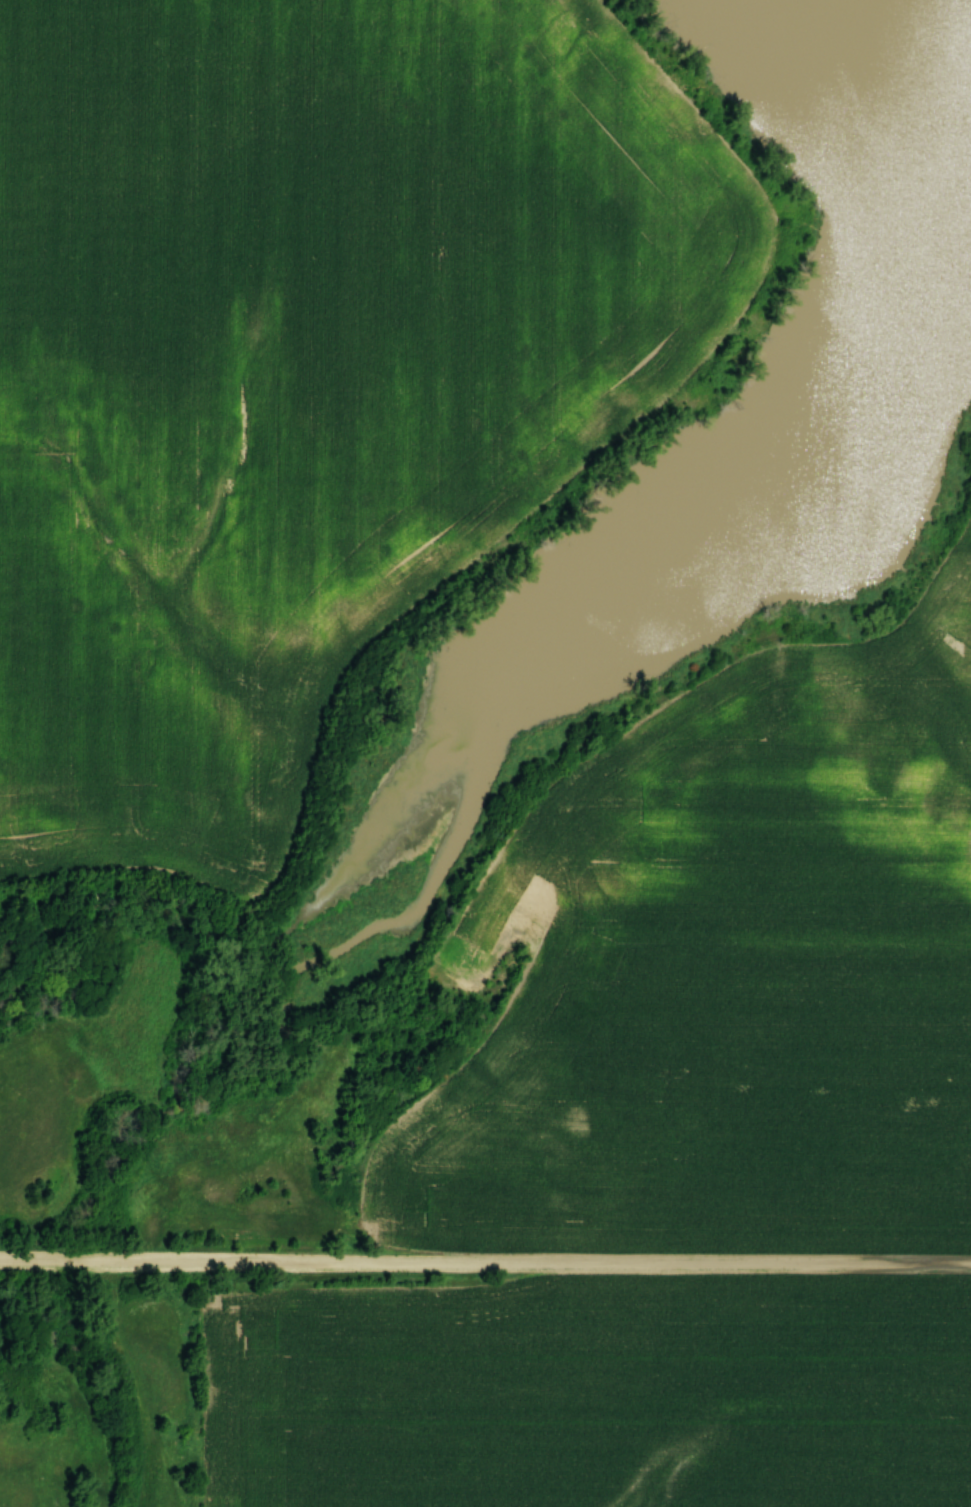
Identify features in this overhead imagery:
road: (485, 1265)

